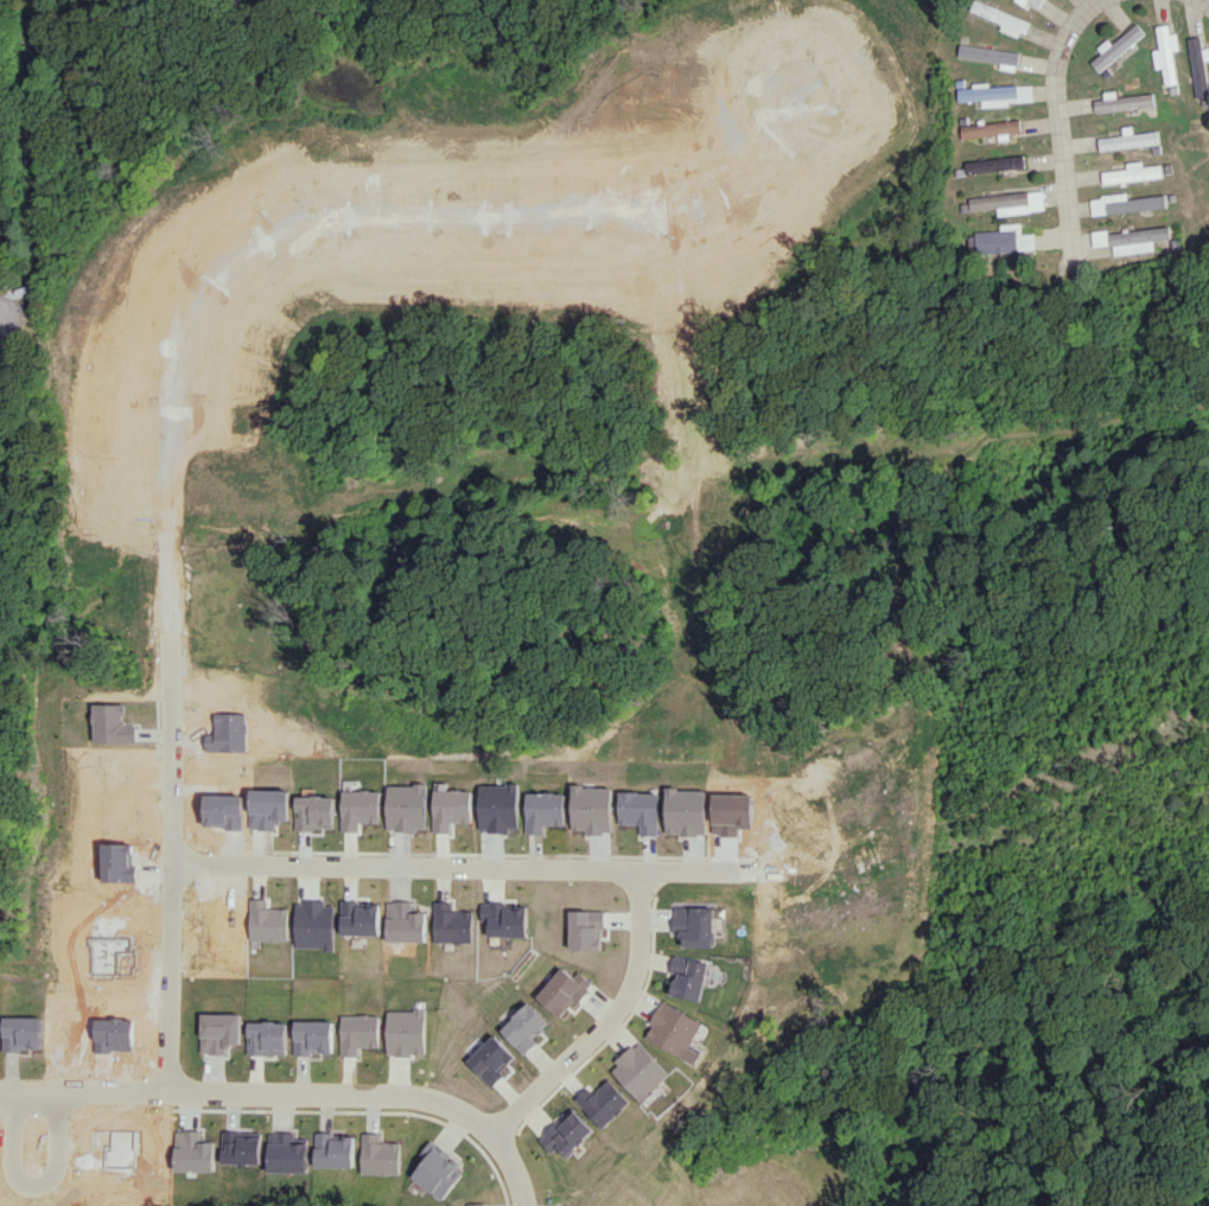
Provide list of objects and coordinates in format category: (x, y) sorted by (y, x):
building: (1035, 2)
road: (1201, 5)
building: (1000, 18)
building: (1114, 47)
building: (1165, 53)
building: (990, 56)
building: (1197, 66)
building: (994, 94)
building: (1122, 102)
building: (990, 128)
road: (1058, 129)
building: (1128, 139)
building: (993, 164)
building: (1131, 173)
building: (1010, 202)
building: (1125, 203)
building: (1101, 237)
building: (1005, 240)
building: (1139, 240)
road: (216, 353)
road: (460, 867)
building: (687, 977)
building: (565, 990)
road: (607, 1019)
building: (526, 1028)
building: (675, 1029)
building: (643, 1071)
road: (292, 1091)
building: (571, 1132)
road: (91, 1150)
building: (439, 1172)
road: (4, 1200)
building: (479, 1204)

